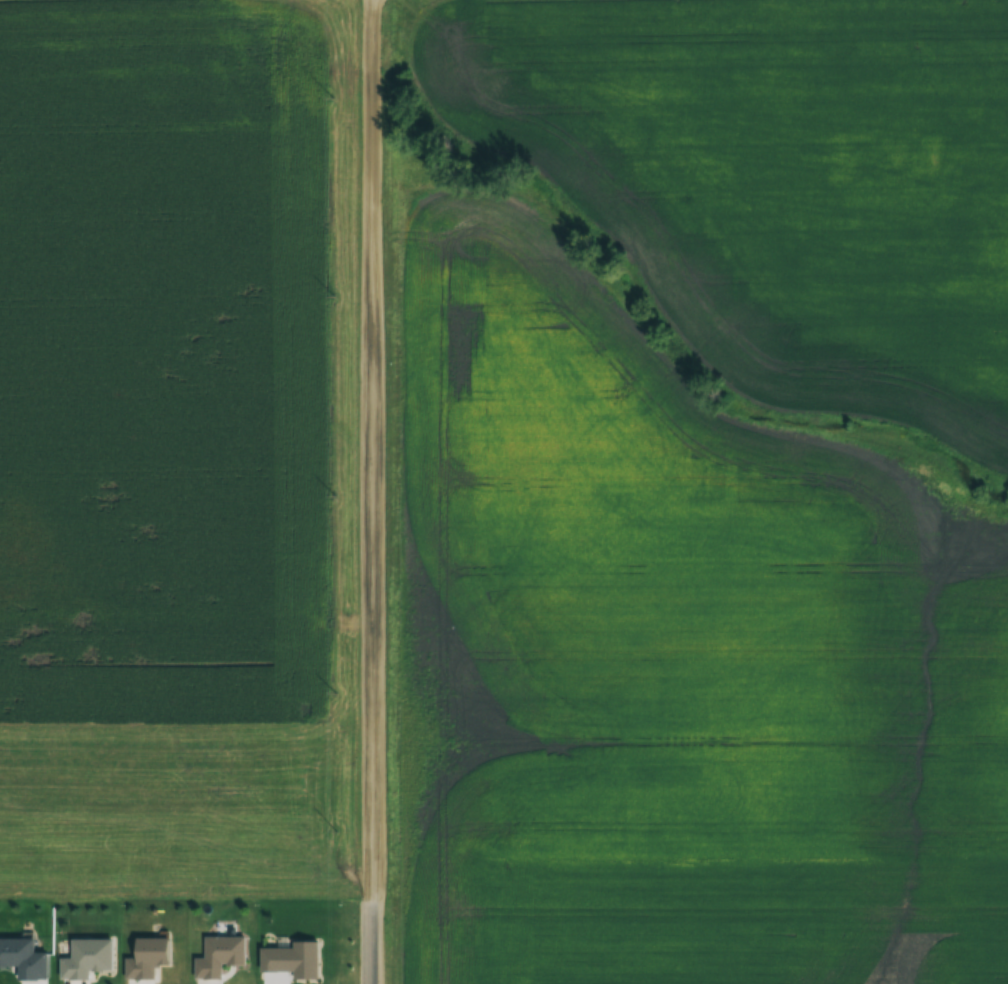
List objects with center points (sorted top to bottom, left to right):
road: (372, 451)
road: (370, 943)

